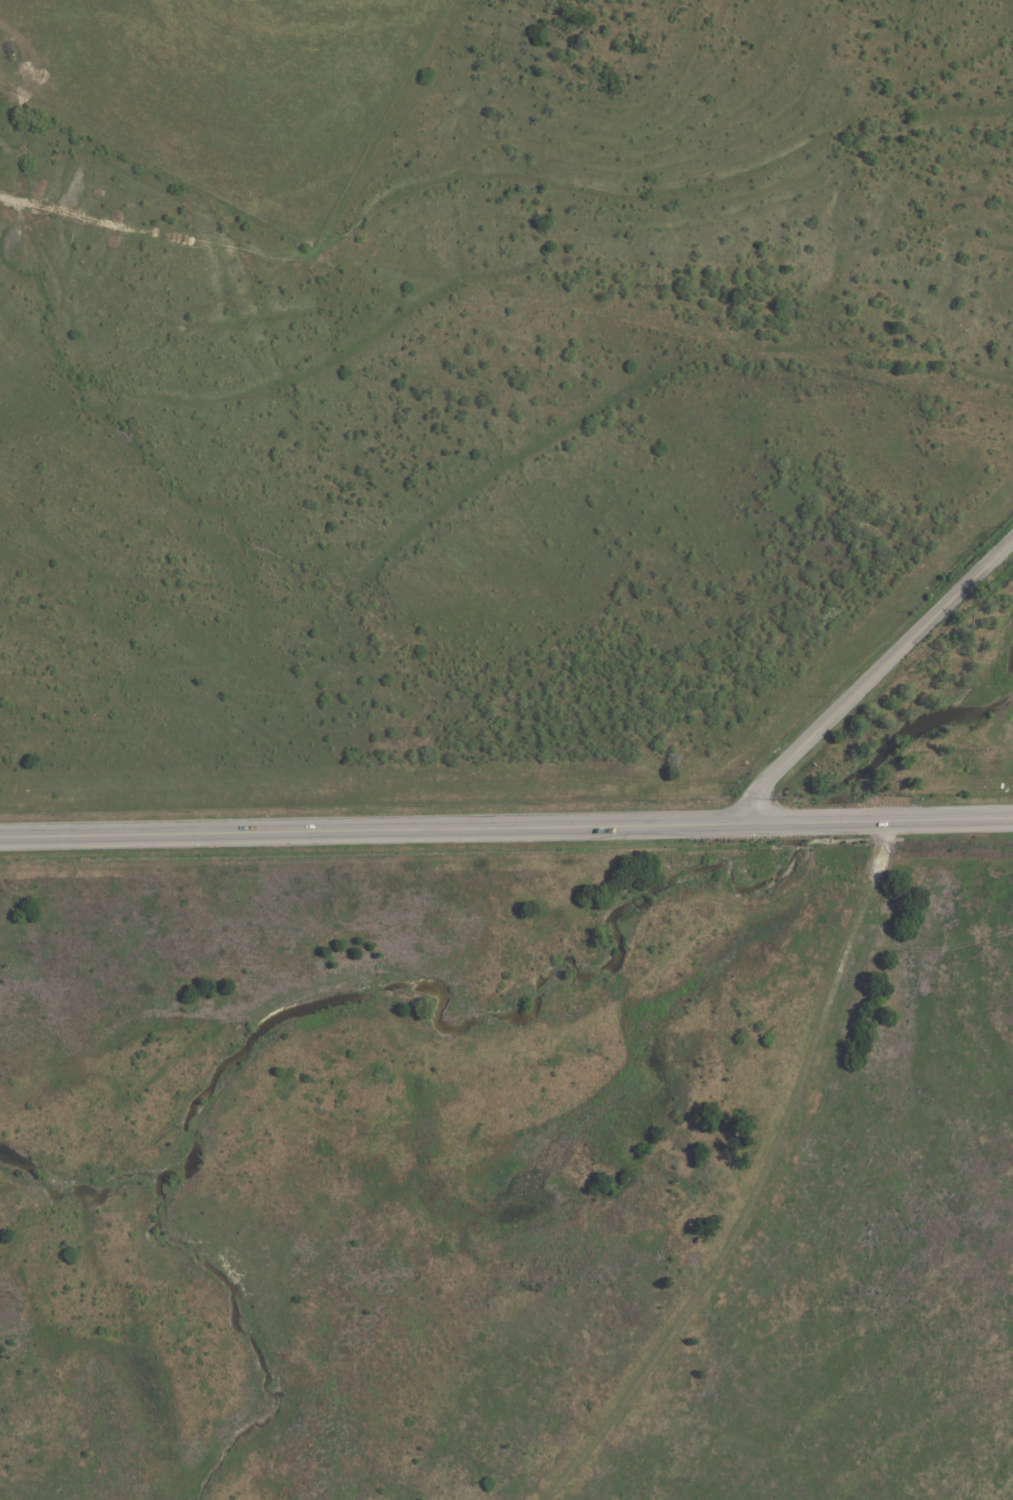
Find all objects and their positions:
road: (873, 684)
road: (506, 830)

